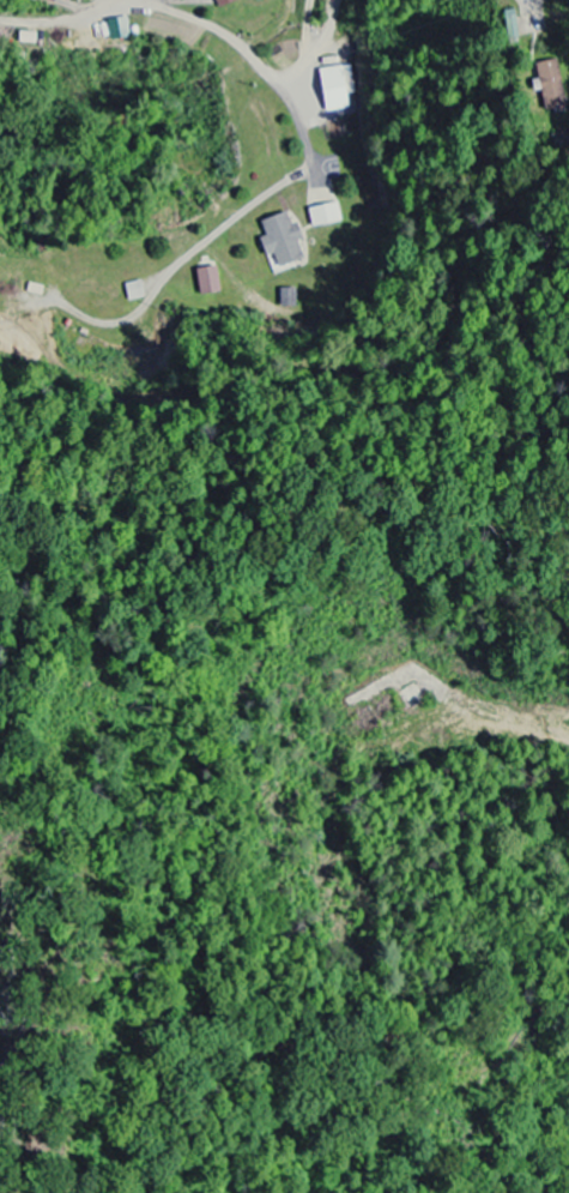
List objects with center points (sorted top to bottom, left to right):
building: (224, 2)
road: (158, 5)
building: (512, 28)
building: (116, 30)
building: (549, 85)
building: (338, 89)
building: (323, 217)
building: (280, 242)
building: (208, 282)

